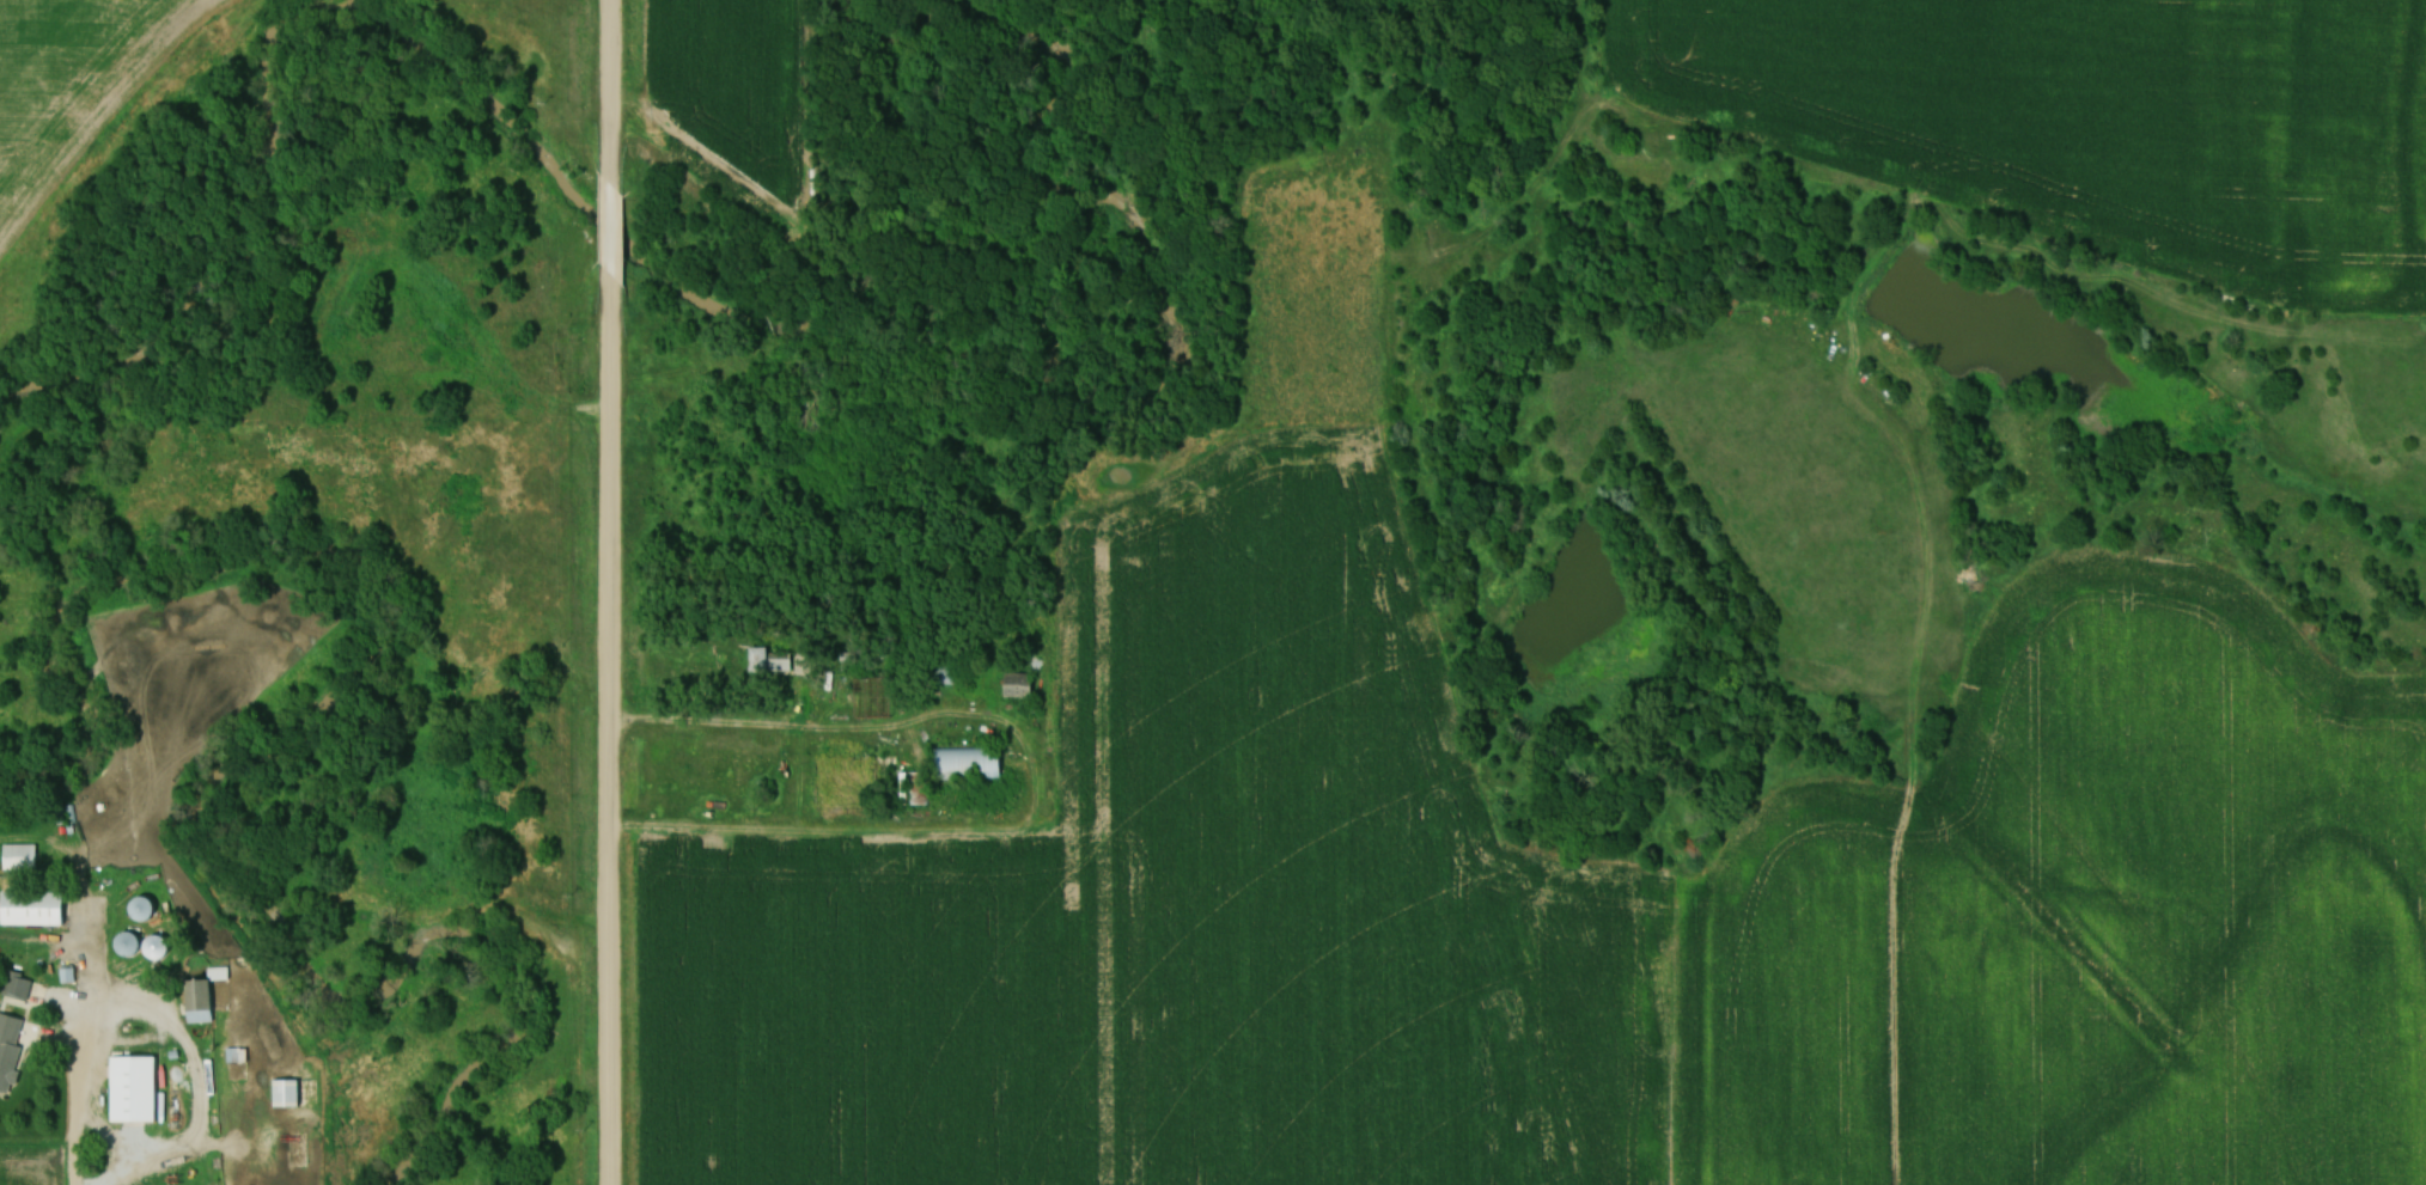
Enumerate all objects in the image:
building: (809, 417)
road: (603, 592)
building: (774, 662)
building: (946, 672)
building: (1022, 686)
building: (971, 765)
road: (1025, 780)
building: (915, 790)
building: (66, 814)
building: (22, 857)
building: (36, 909)
building: (147, 910)
building: (133, 946)
building: (161, 948)
building: (18, 987)
building: (206, 997)
building: (11, 1049)
road: (83, 1091)
building: (138, 1091)
building: (289, 1094)

